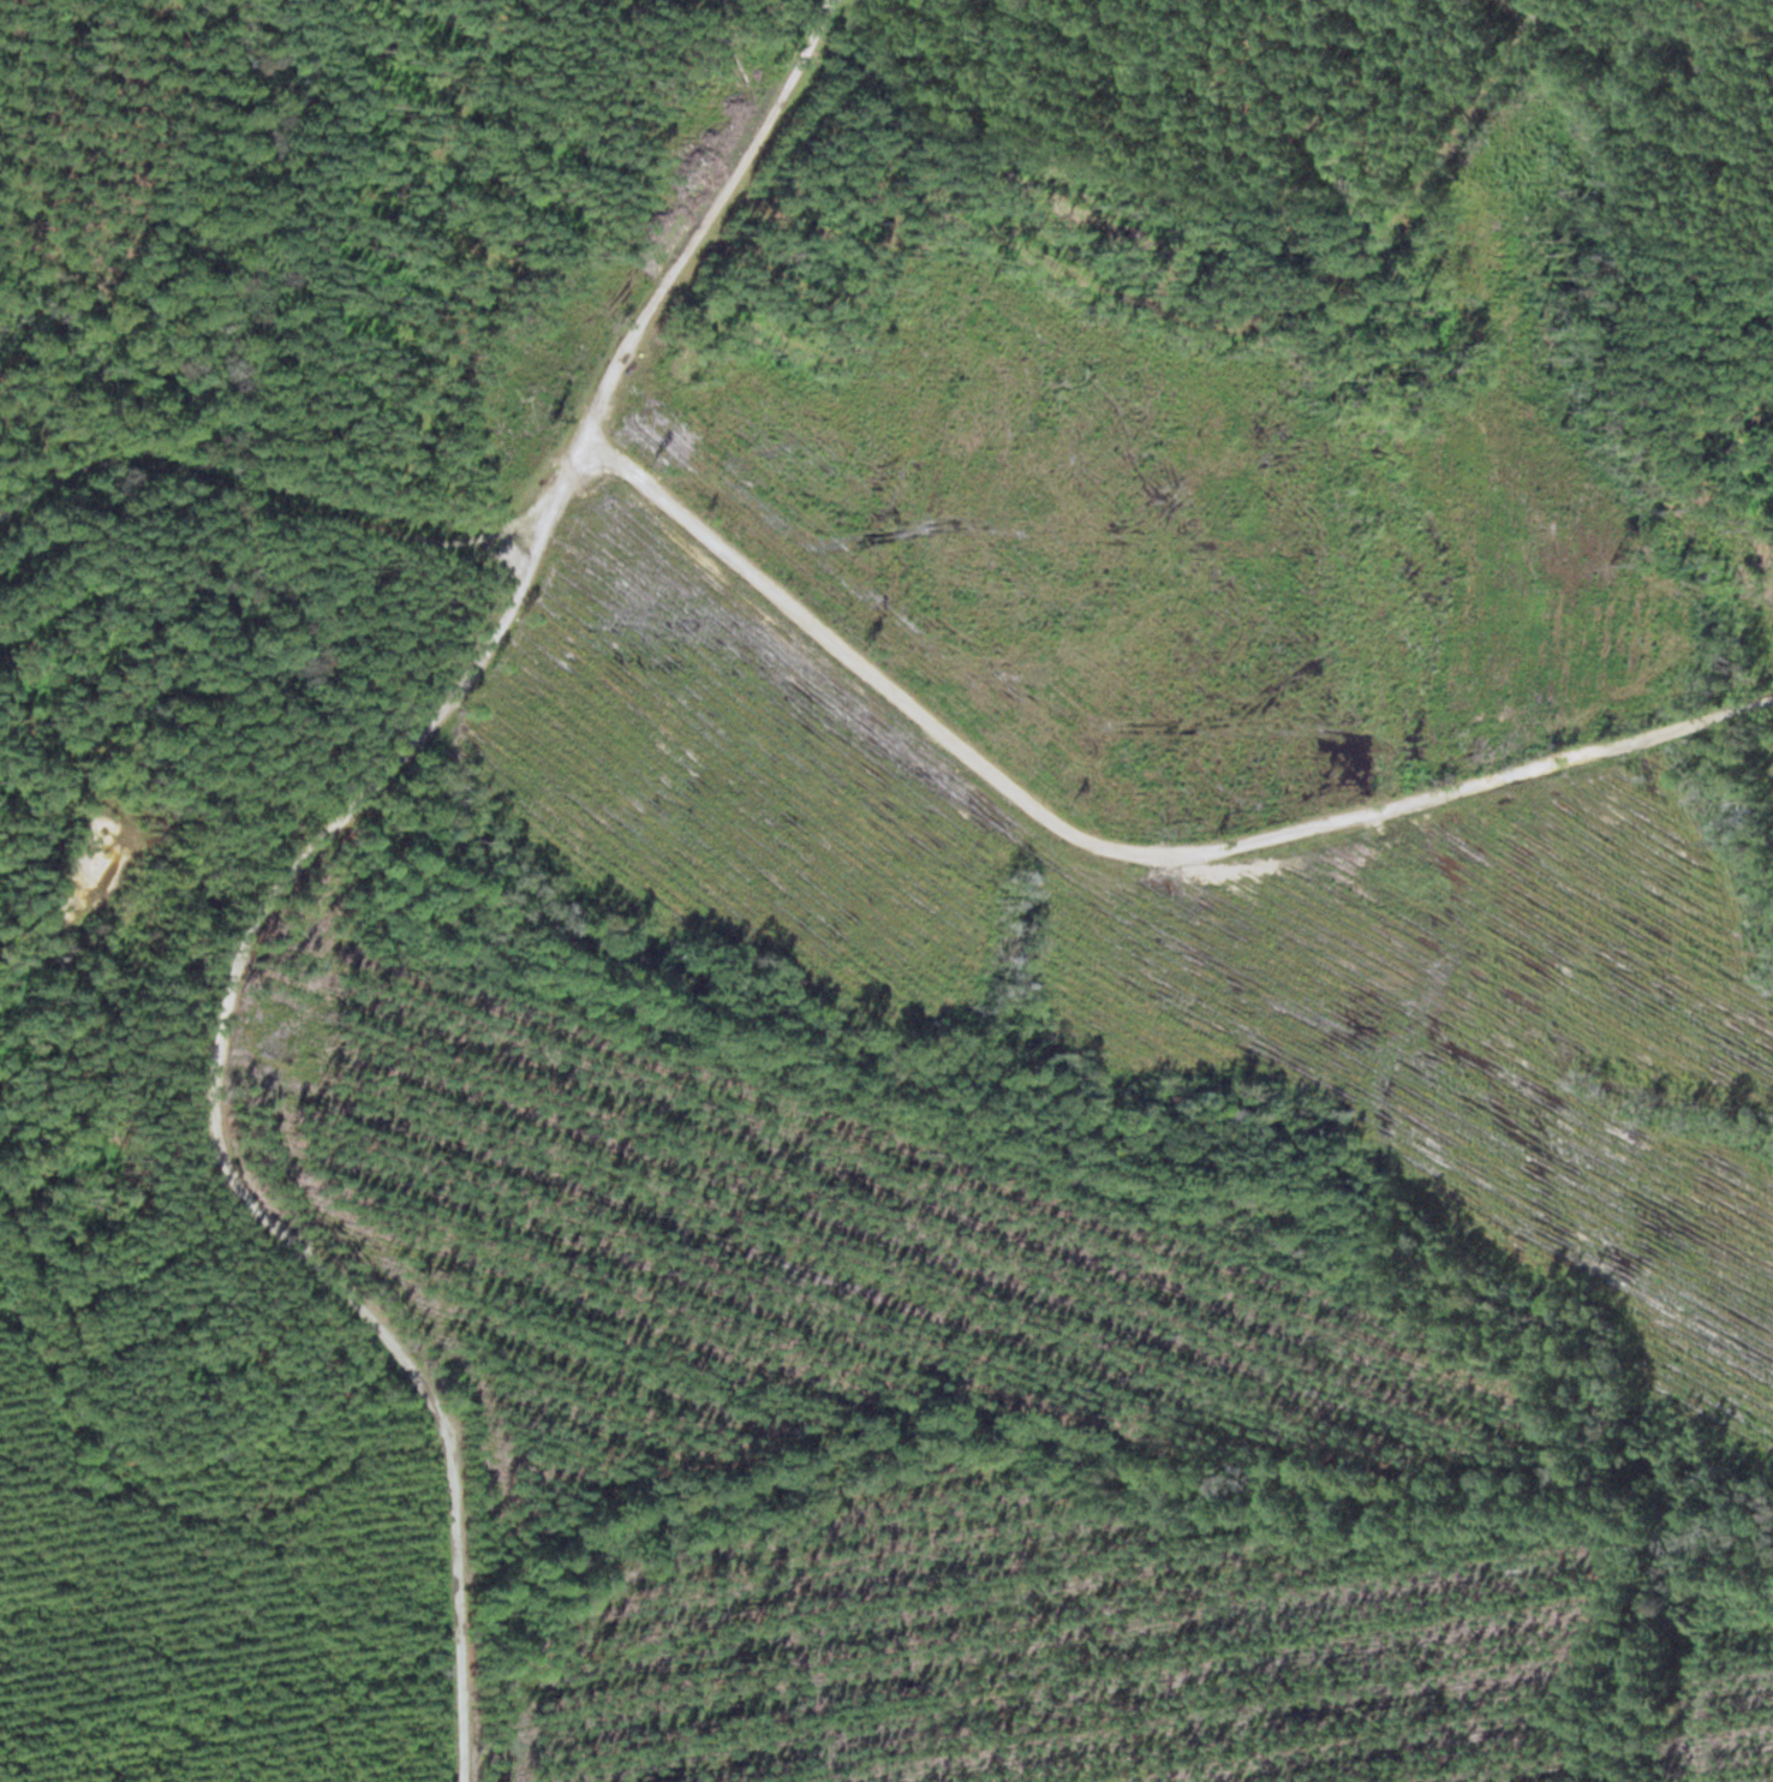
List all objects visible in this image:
road: (720, 228)
road: (550, 541)

